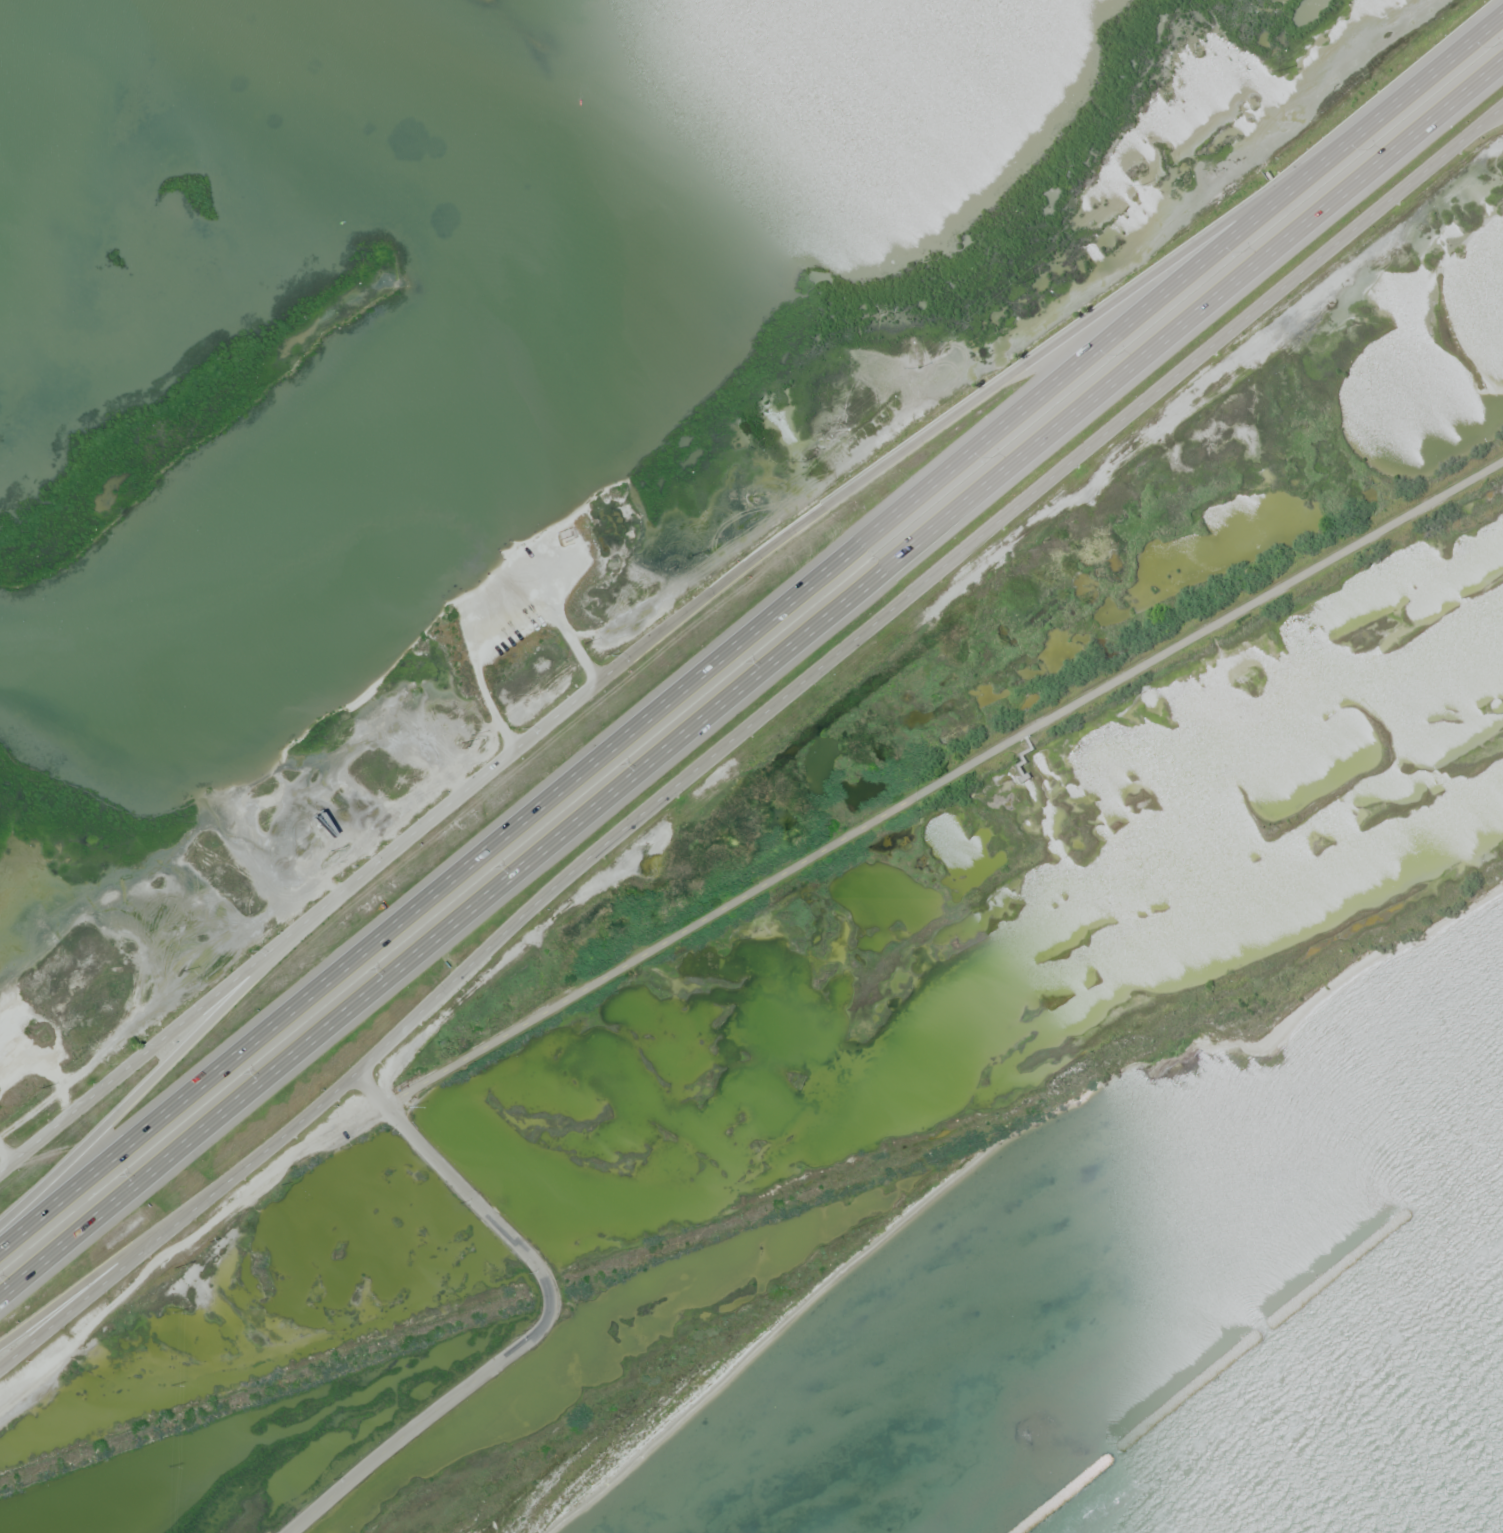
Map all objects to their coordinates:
road: (968, 410)
road: (923, 584)
road: (750, 633)
road: (751, 679)
road: (1020, 754)
road: (941, 779)
road: (298, 928)
road: (160, 1072)
railway: (765, 1207)
road: (177, 1222)
road: (117, 1257)
road: (541, 1325)
park: (328, 1372)

